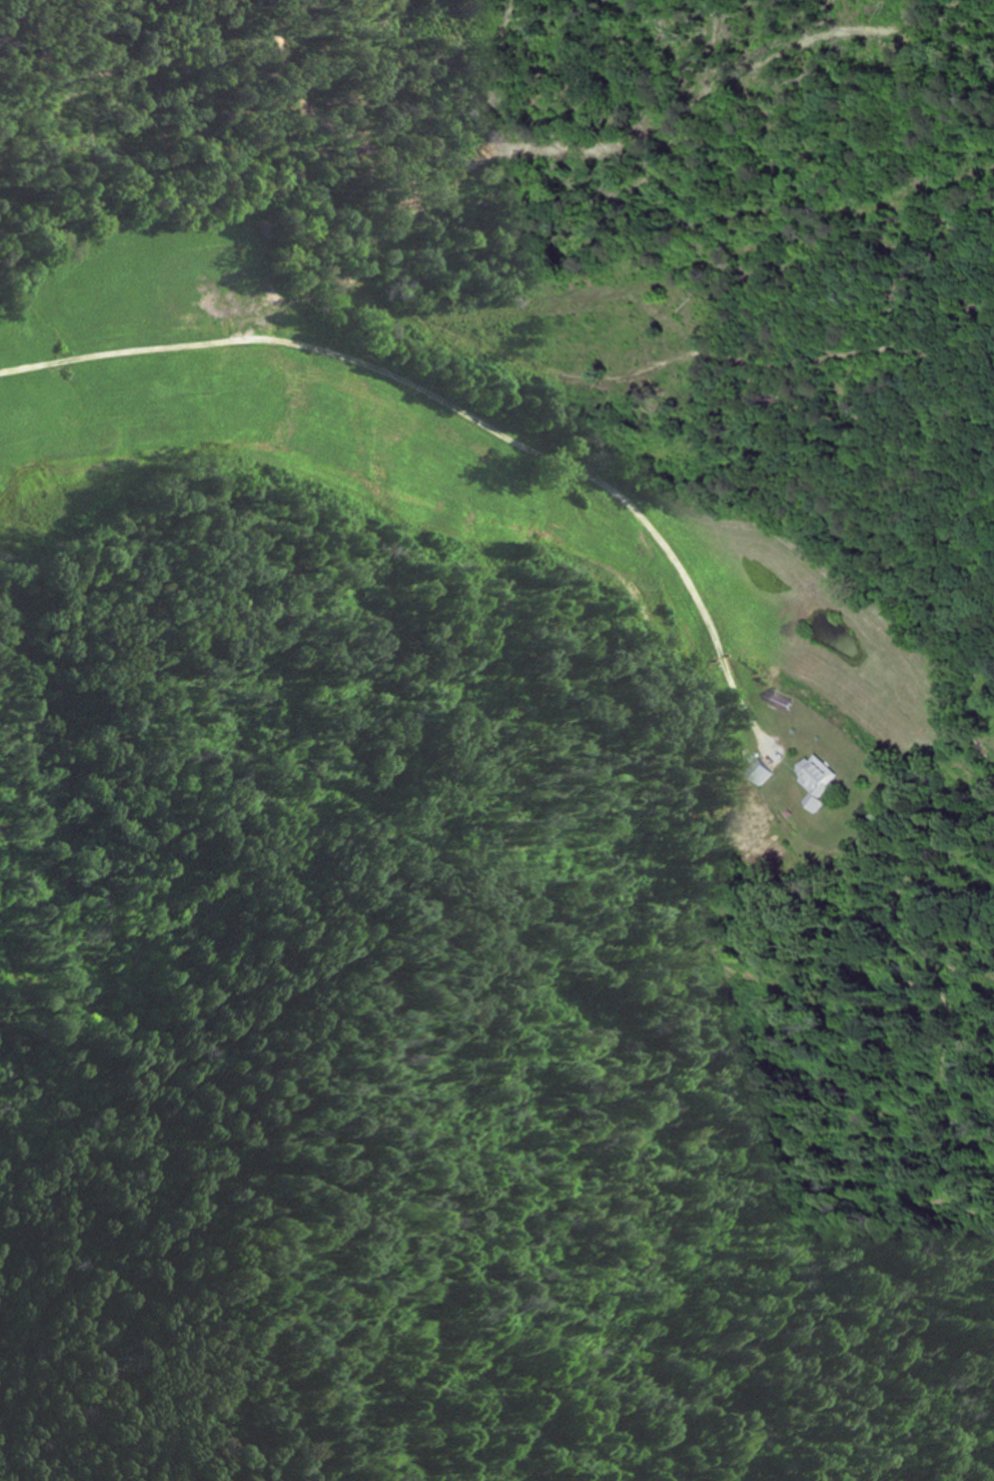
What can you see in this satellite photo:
building: (789, 707)
building: (759, 775)
building: (817, 784)

